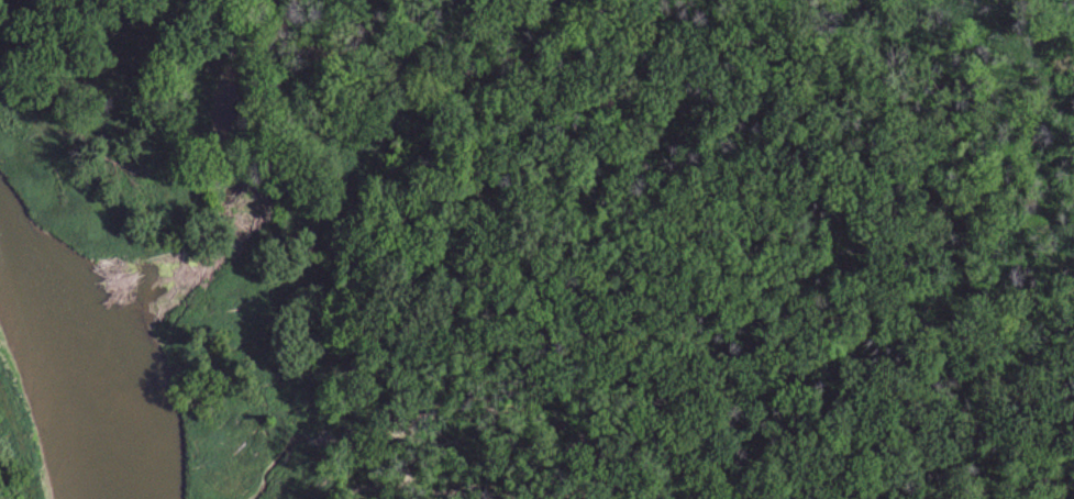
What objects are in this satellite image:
river: (77, 374)

